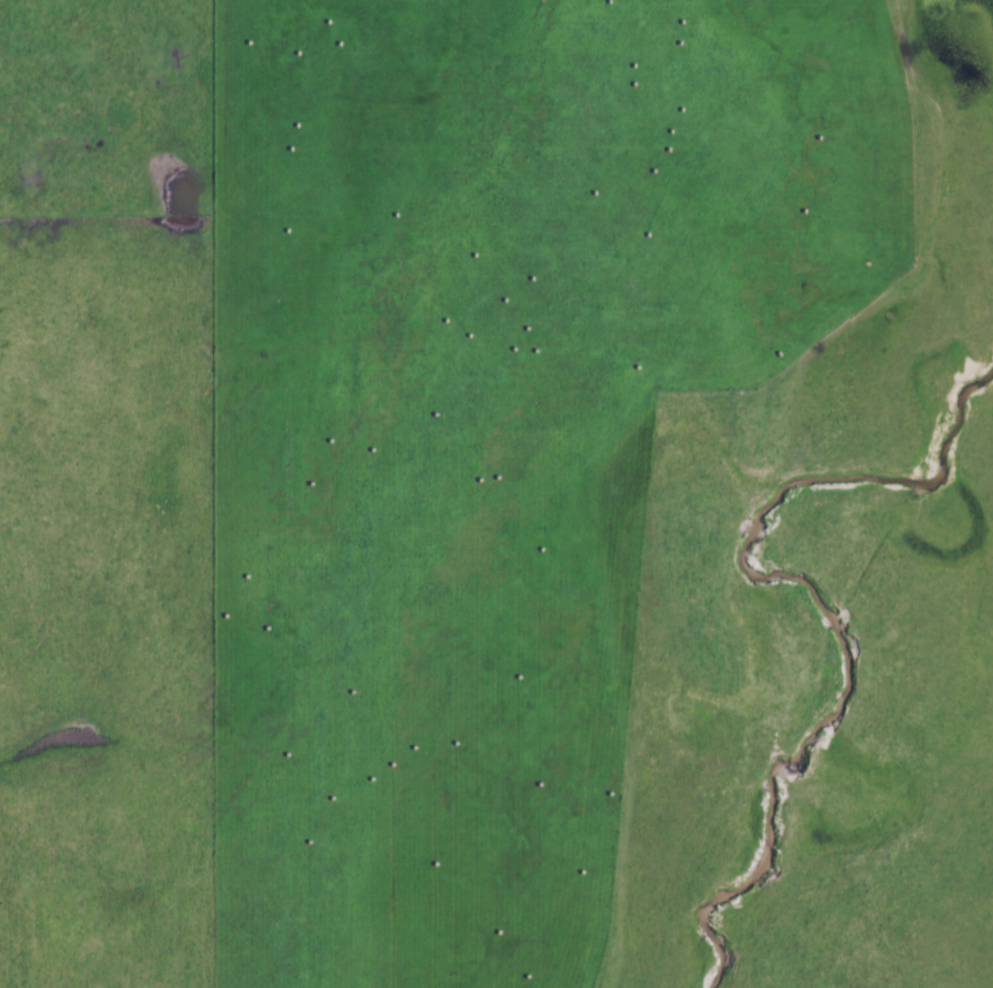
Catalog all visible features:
river: (823, 604)

